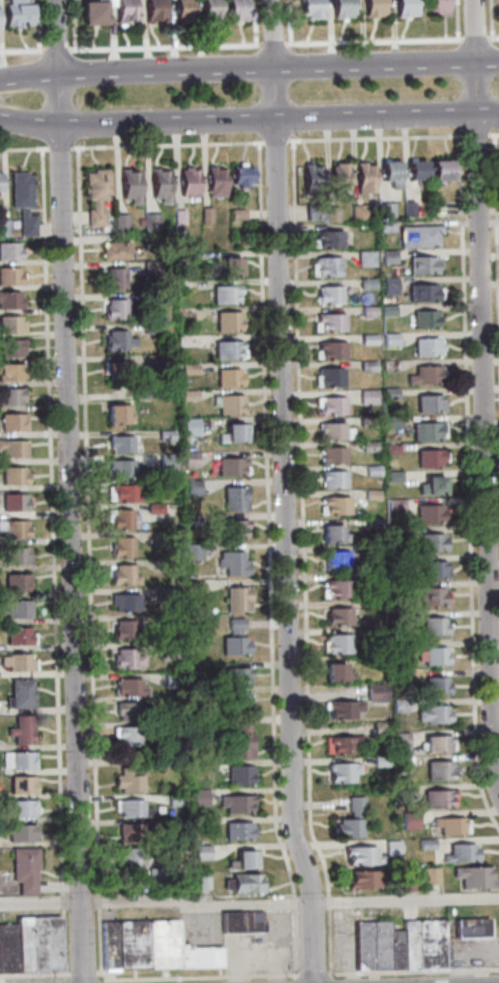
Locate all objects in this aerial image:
building: (498, 4)
building: (309, 8)
building: (341, 8)
building: (372, 8)
building: (404, 8)
building: (436, 8)
building: (152, 10)
building: (235, 10)
building: (122, 11)
building: (182, 11)
building: (210, 11)
building: (17, 13)
building: (91, 13)
road: (490, 23)
road: (72, 24)
road: (456, 24)
road: (36, 25)
road: (288, 26)
road: (253, 27)
road: (492, 40)
road: (472, 41)
road: (266, 44)
road: (54, 49)
road: (18, 50)
road: (73, 54)
road: (38, 55)
road: (248, 69)
road: (487, 86)
road: (461, 89)
road: (260, 93)
road: (286, 93)
road: (44, 99)
road: (69, 100)
road: (249, 119)
road: (456, 132)
road: (492, 134)
road: (475, 136)
road: (374, 138)
road: (273, 142)
road: (165, 145)
road: (58, 149)
road: (23, 150)
building: (415, 172)
building: (438, 172)
building: (389, 174)
building: (241, 176)
building: (337, 176)
building: (363, 178)
building: (310, 179)
building: (0, 180)
building: (187, 183)
building: (215, 183)
building: (159, 185)
building: (129, 186)
building: (95, 195)
building: (21, 201)
building: (407, 208)
building: (384, 210)
building: (356, 211)
building: (313, 212)
building: (236, 214)
building: (331, 214)
building: (205, 216)
building: (178, 217)
building: (149, 220)
building: (138, 221)
building: (118, 222)
building: (3, 228)
building: (417, 236)
building: (328, 240)
building: (114, 251)
building: (9, 252)
building: (184, 257)
building: (387, 257)
building: (364, 259)
building: (421, 265)
building: (229, 267)
building: (326, 267)
building: (151, 268)
building: (9, 276)
building: (113, 278)
building: (365, 283)
building: (388, 286)
building: (421, 293)
building: (224, 294)
road: (495, 294)
building: (328, 296)
building: (150, 298)
building: (9, 300)
building: (114, 310)
building: (387, 310)
building: (367, 312)
building: (423, 320)
building: (227, 321)
building: (330, 323)
building: (10, 325)
building: (150, 328)
building: (367, 339)
building: (389, 340)
building: (116, 341)
building: (10, 348)
building: (425, 348)
building: (227, 350)
building: (331, 351)
building: (152, 360)
building: (387, 365)
building: (367, 367)
building: (188, 369)
building: (116, 371)
building: (10, 373)
building: (423, 375)
building: (227, 378)
building: (329, 378)
building: (138, 392)
building: (387, 394)
building: (187, 396)
building: (10, 397)
building: (367, 398)
road: (480, 398)
building: (428, 404)
building: (228, 405)
building: (331, 406)
building: (115, 415)
building: (366, 422)
building: (12, 423)
building: (391, 423)
building: (188, 427)
building: (330, 432)
building: (426, 432)
building: (233, 434)
building: (165, 435)
building: (119, 445)
building: (367, 446)
building: (12, 449)
building: (390, 449)
building: (331, 456)
building: (428, 459)
building: (188, 460)
building: (166, 461)
building: (230, 467)
building: (119, 468)
building: (371, 471)
building: (12, 476)
building: (392, 476)
building: (332, 481)
building: (191, 487)
building: (430, 487)
road: (466, 487)
road: (67, 492)
road: (282, 493)
building: (122, 494)
building: (370, 495)
building: (233, 499)
building: (12, 503)
building: (394, 505)
building: (334, 506)
building: (153, 509)
building: (170, 510)
building: (427, 514)
road: (50, 517)
building: (118, 519)
building: (189, 520)
building: (372, 522)
park: (494, 522)
building: (229, 528)
building: (13, 529)
building: (331, 535)
building: (158, 539)
building: (430, 543)
building: (121, 548)
building: (371, 551)
building: (191, 552)
building: (15, 556)
road: (87, 557)
road: (301, 558)
road: (266, 559)
building: (336, 560)
building: (231, 563)
building: (165, 566)
building: (432, 571)
building: (123, 577)
building: (16, 583)
building: (193, 586)
building: (336, 588)
building: (397, 588)
building: (165, 594)
building: (430, 597)
building: (235, 599)
building: (122, 602)
building: (375, 605)
building: (14, 609)
building: (336, 617)
building: (400, 618)
building: (166, 621)
building: (433, 627)
building: (125, 631)
building: (375, 636)
building: (18, 637)
building: (233, 639)
building: (336, 643)
building: (402, 647)
building: (170, 650)
building: (435, 656)
building: (126, 660)
building: (16, 663)
building: (335, 674)
building: (235, 675)
building: (169, 680)
building: (435, 686)
building: (128, 688)
building: (196, 691)
building: (374, 692)
building: (18, 695)
building: (237, 699)
building: (398, 705)
building: (342, 709)
building: (127, 712)
building: (435, 715)
building: (378, 729)
building: (20, 730)
building: (126, 735)
building: (240, 739)
building: (400, 743)
building: (340, 745)
building: (436, 745)
building: (16, 761)
building: (379, 762)
building: (148, 764)
building: (398, 764)
building: (437, 771)
building: (341, 773)
building: (237, 776)
building: (126, 782)
building: (20, 785)
building: (401, 789)
building: (198, 800)
building: (435, 800)
building: (173, 801)
building: (237, 805)
building: (19, 809)
building: (130, 810)
building: (351, 820)
building: (408, 820)
building: (199, 824)
building: (175, 826)
building: (450, 827)
building: (238, 831)
building: (18, 833)
building: (130, 833)
building: (431, 844)
building: (397, 847)
building: (207, 852)
building: (465, 853)
building: (137, 855)
building: (367, 855)
building: (251, 859)
building: (30, 869)
building: (161, 874)
building: (433, 875)
building: (479, 876)
building: (368, 879)
building: (206, 880)
building: (252, 883)
building: (413, 885)
road: (157, 900)
road: (406, 900)
road: (68, 901)
building: (237, 922)
building: (257, 922)
building: (476, 928)
road: (68, 941)
building: (115, 942)
building: (29, 943)
building: (51, 943)
building: (169, 943)
building: (138, 944)
building: (414, 944)
building: (434, 944)
building: (376, 945)
building: (12, 947)
building: (0, 950)
building: (401, 950)
road: (466, 950)
building: (205, 957)
road: (414, 971)
road: (87, 973)
road: (36, 974)
road: (317, 975)
road: (198, 977)
road: (335, 980)
road: (298, 981)

